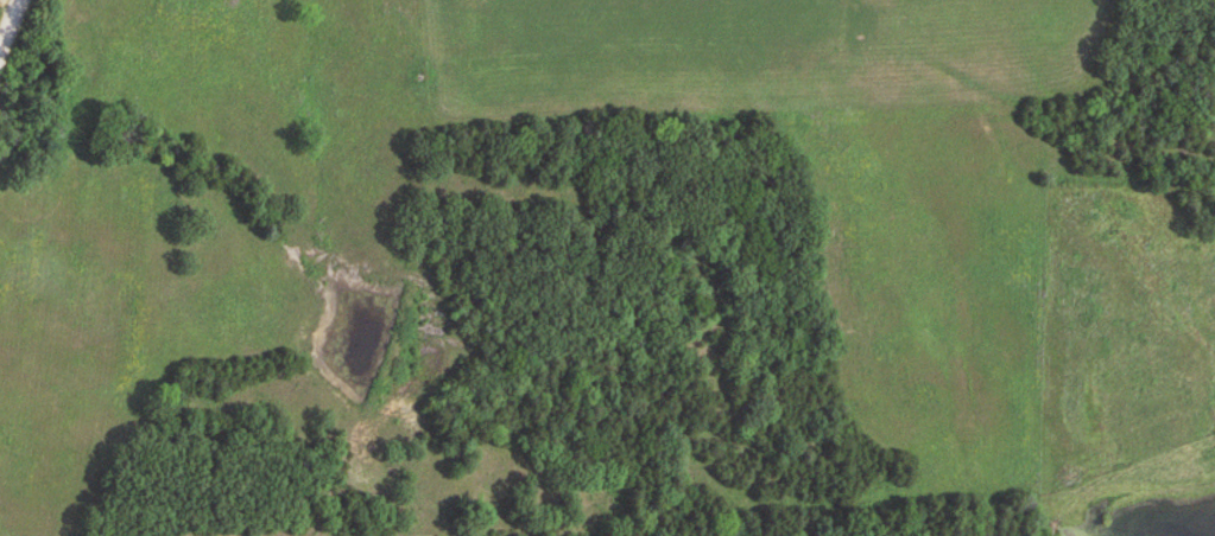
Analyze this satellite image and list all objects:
road: (11, 56)

